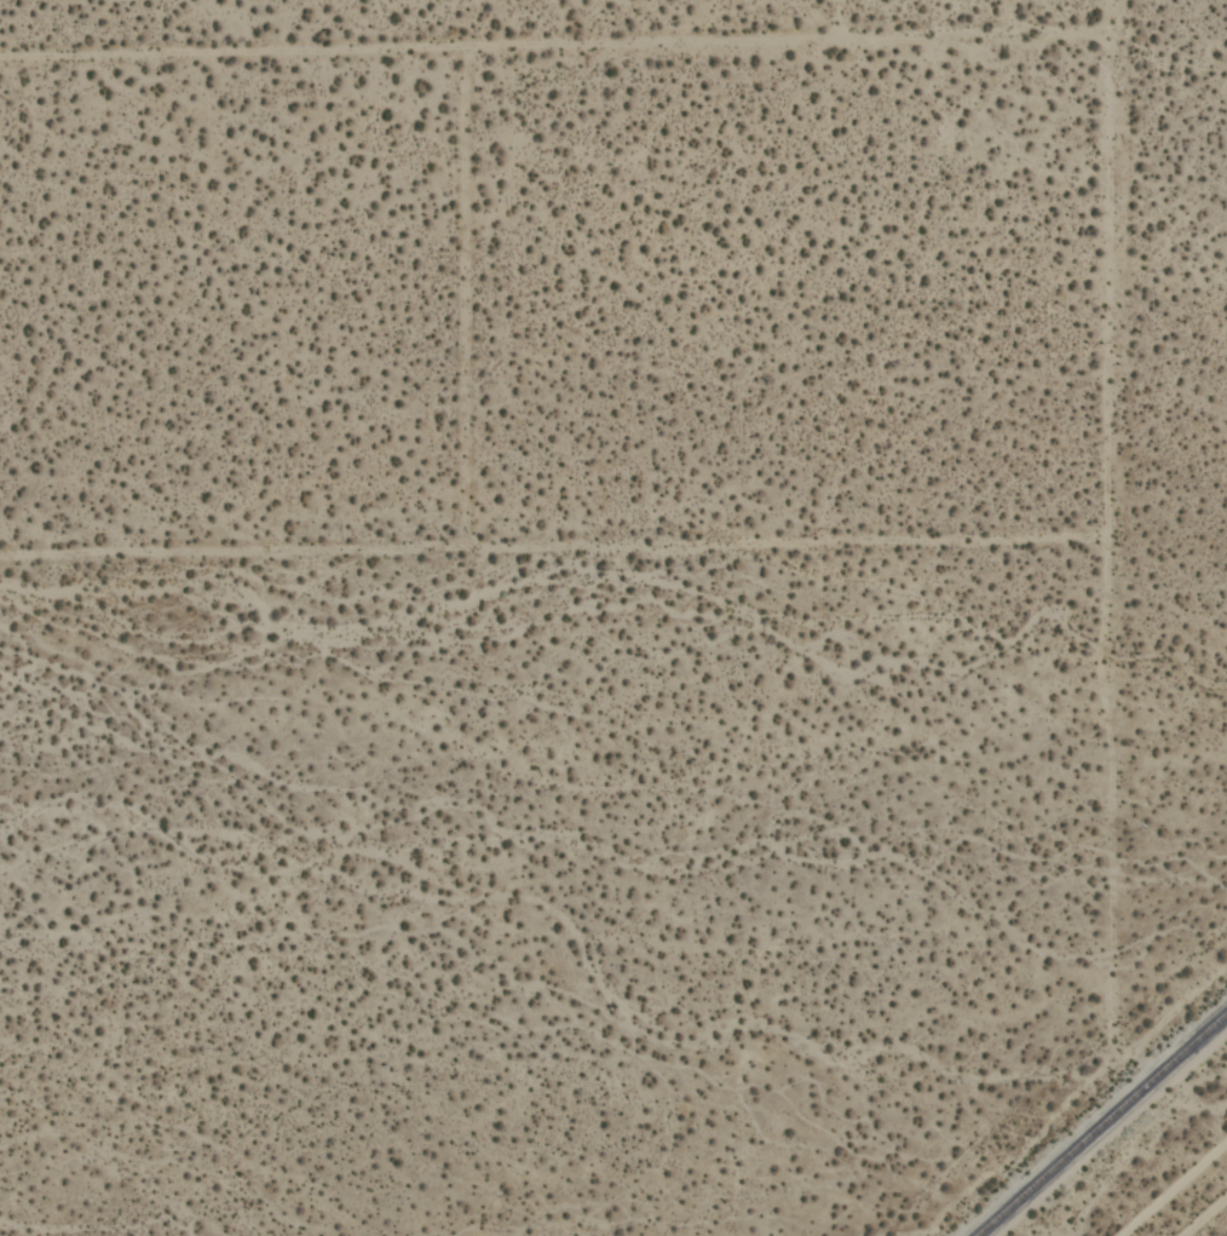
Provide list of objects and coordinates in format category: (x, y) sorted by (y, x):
crop: (613, 617)
railway: (1099, 1122)

